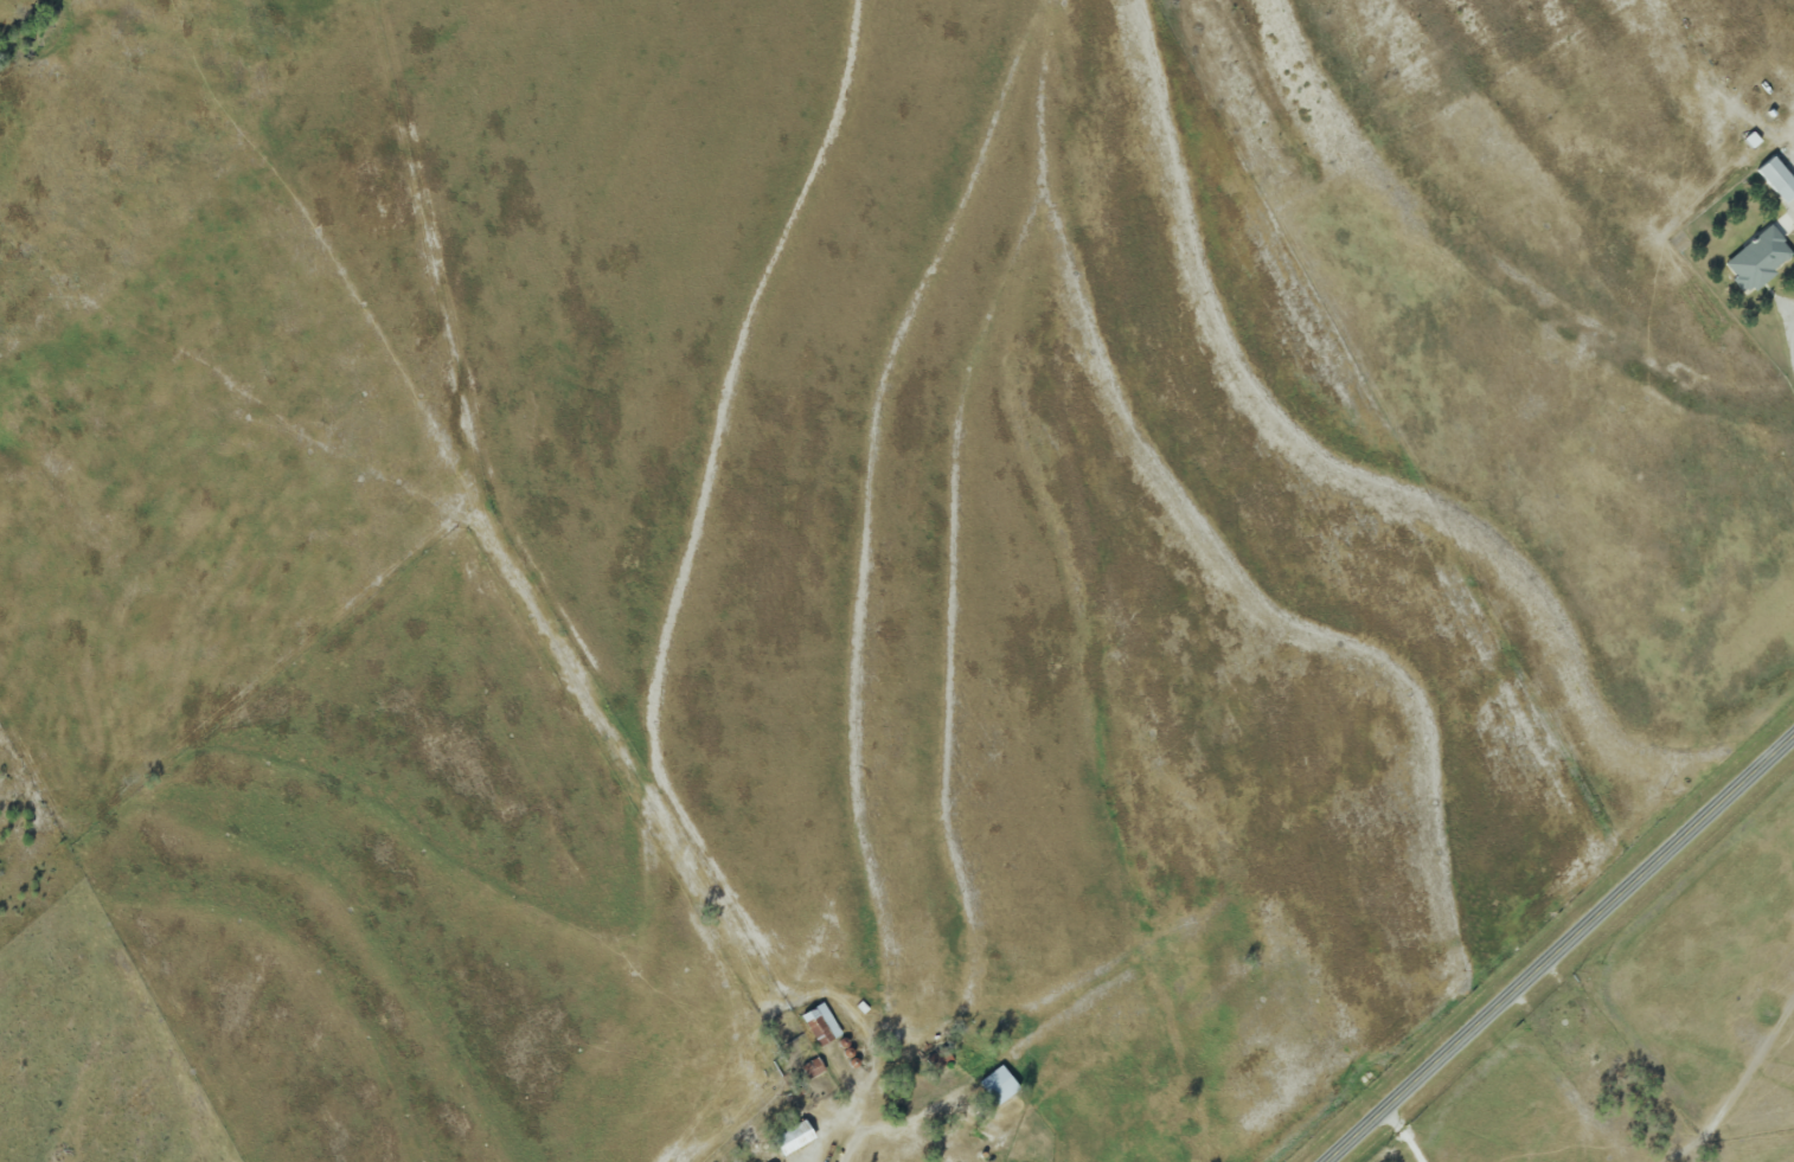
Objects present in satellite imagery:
road: (1793, 163)
building: (1777, 179)
building: (1757, 259)
road: (1787, 342)
road: (1561, 951)
building: (821, 1025)
building: (999, 1085)
road: (882, 1134)
building: (794, 1137)

